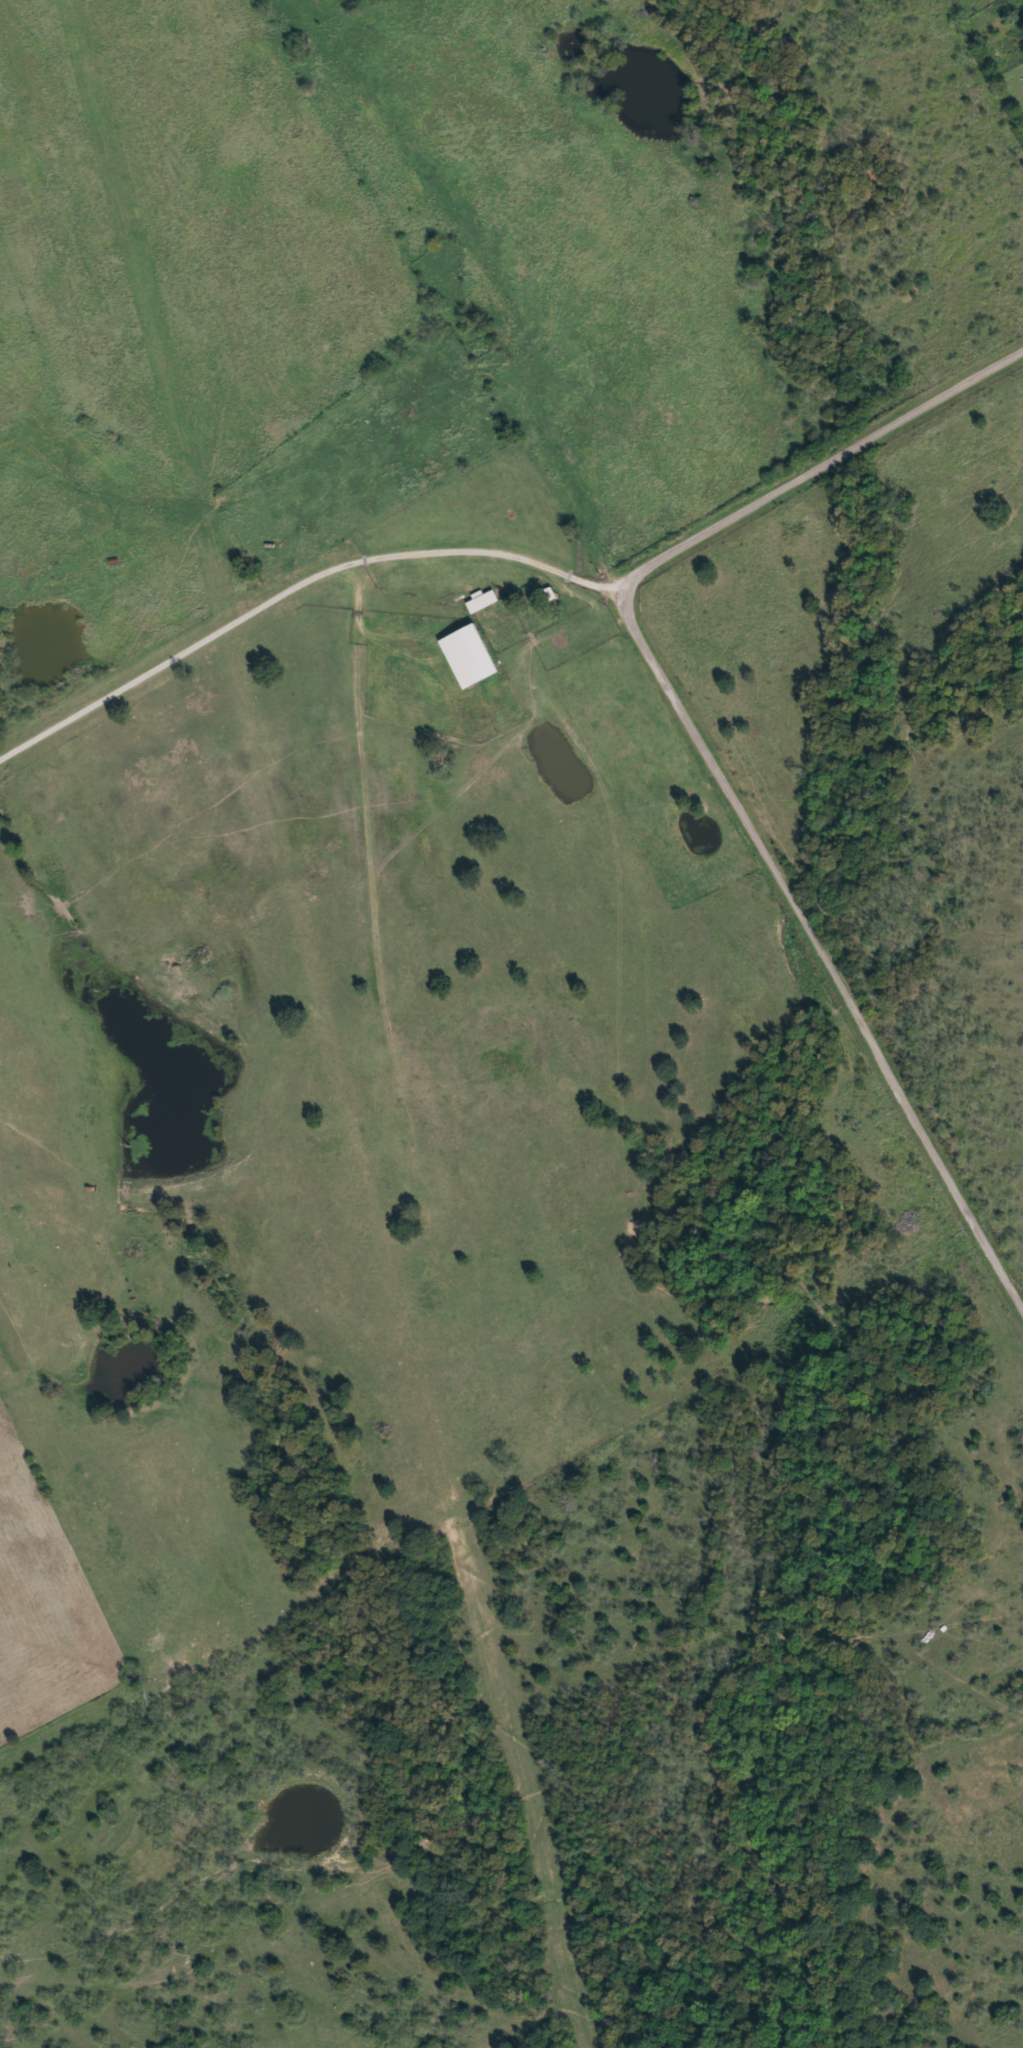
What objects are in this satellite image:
road: (817, 471)
road: (293, 588)
building: (475, 651)
road: (823, 950)

